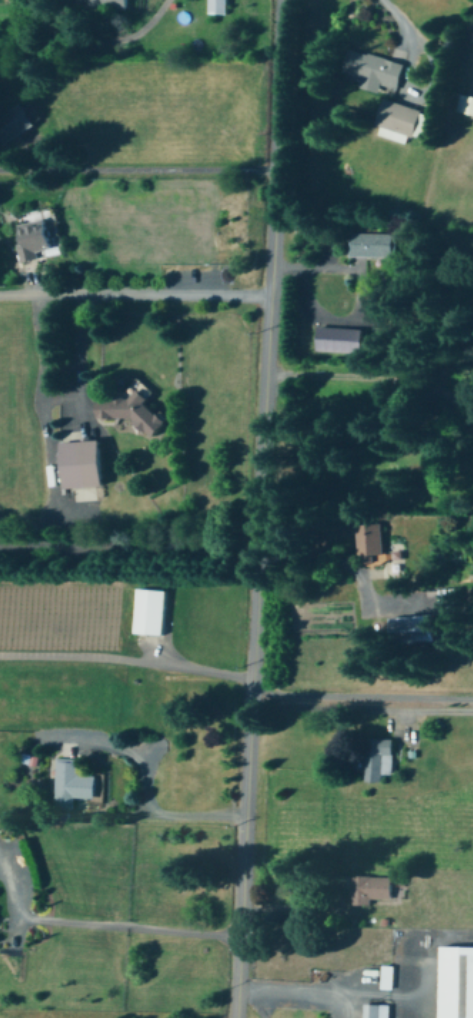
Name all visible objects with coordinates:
building: (110, 2)
building: (218, 5)
road: (155, 17)
road: (395, 18)
building: (379, 71)
building: (468, 103)
building: (402, 120)
road: (137, 169)
building: (37, 237)
building: (376, 243)
road: (135, 294)
road: (360, 297)
building: (344, 338)
road: (374, 377)
road: (56, 396)
building: (133, 410)
building: (82, 462)
building: (48, 465)
road: (259, 509)
building: (372, 538)
road: (129, 546)
road: (346, 568)
building: (452, 595)
building: (153, 610)
building: (417, 623)
road: (125, 660)
road: (362, 696)
road: (361, 710)
building: (381, 757)
building: (74, 779)
road: (172, 817)
building: (372, 887)
road: (108, 924)
building: (389, 975)
building: (458, 980)
road: (309, 993)
road: (396, 996)
road: (254, 1005)
building: (377, 1009)

